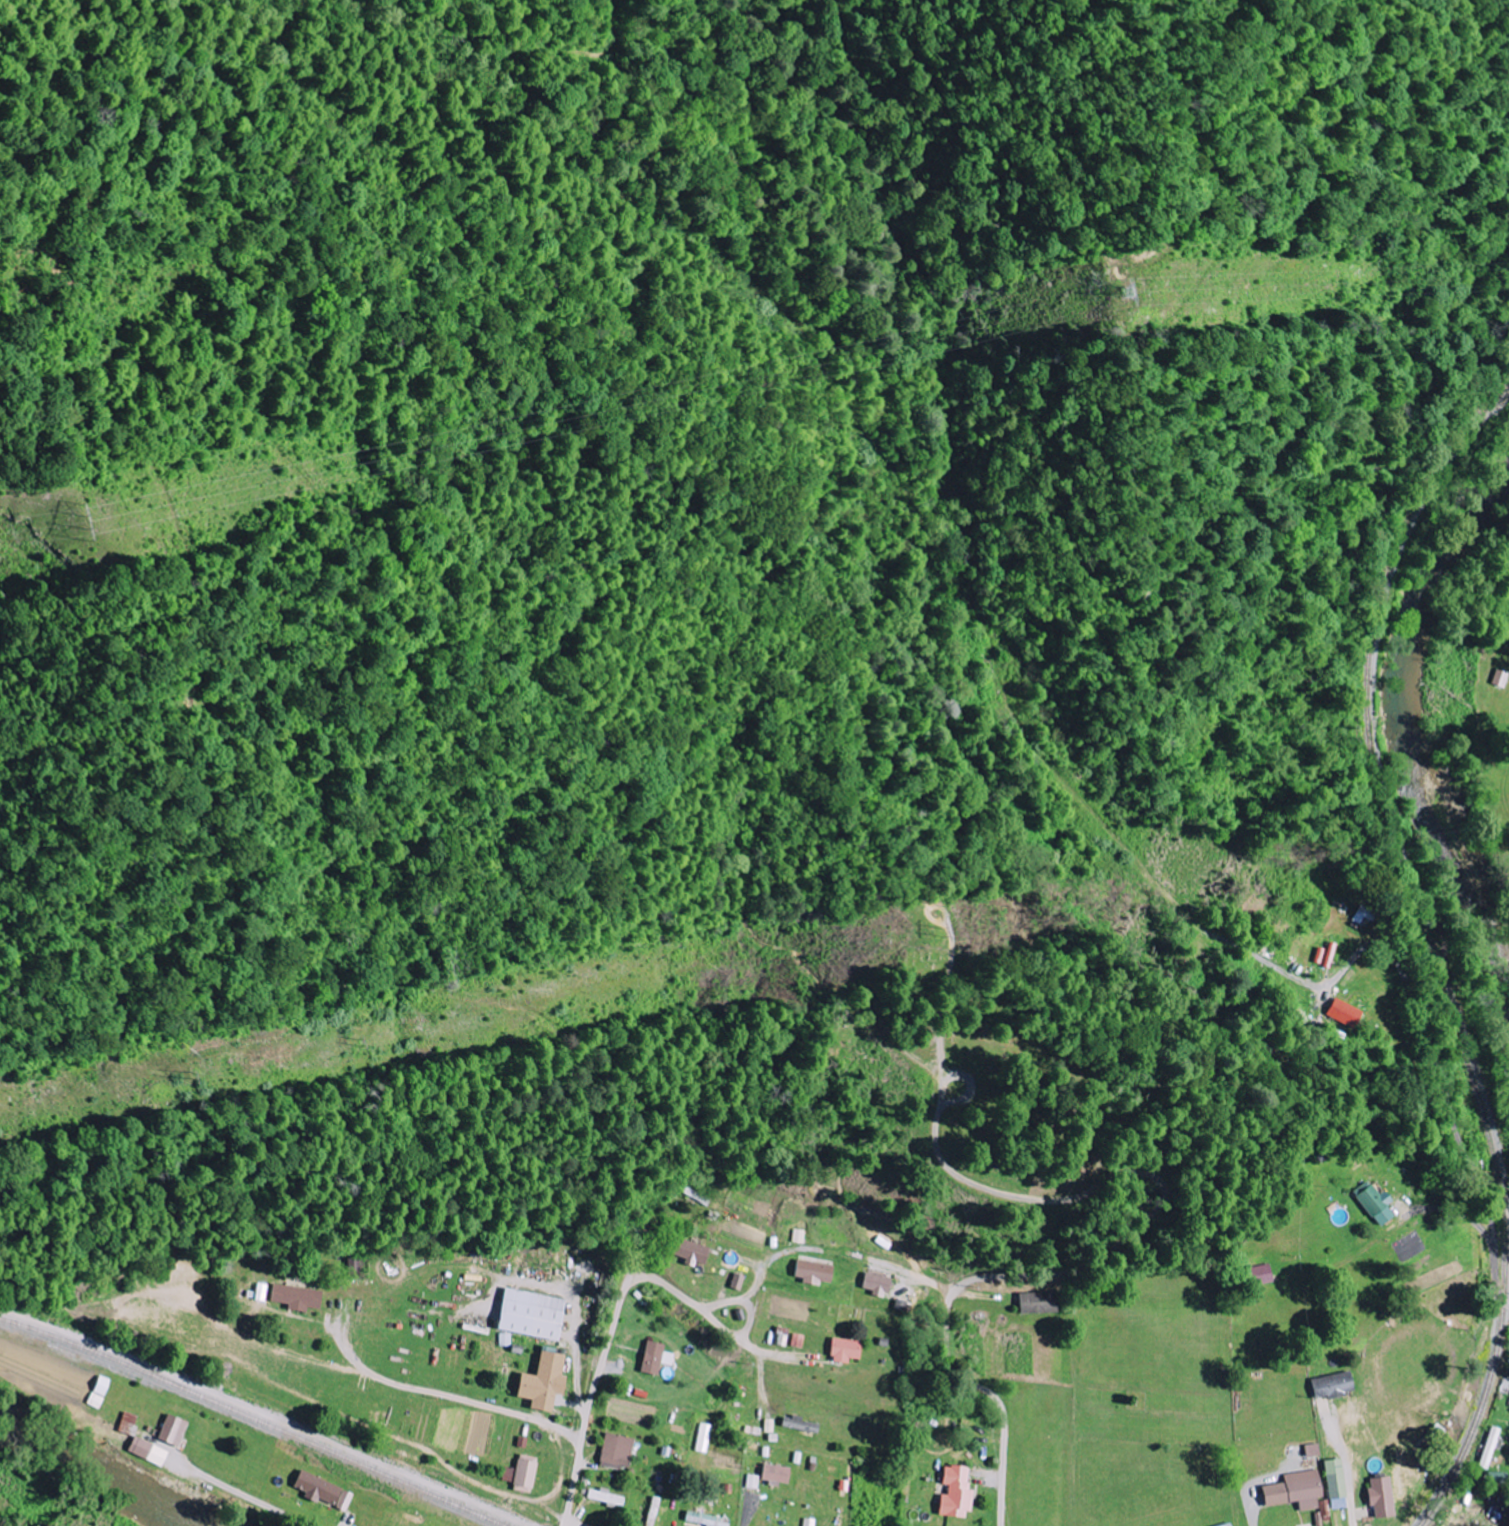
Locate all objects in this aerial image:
building: (1499, 677)
river: (1408, 741)
railway: (1436, 943)
road: (1351, 963)
building: (1339, 1012)
park: (963, 1081)
road: (960, 1096)
road: (1453, 1129)
building: (1371, 1204)
building: (800, 1236)
building: (690, 1251)
road: (1105, 1256)
building: (357, 1267)
building: (813, 1272)
building: (1259, 1274)
road: (1494, 1276)
building: (737, 1281)
building: (877, 1283)
building: (261, 1294)
building: (295, 1296)
building: (1037, 1303)
building: (528, 1316)
road: (729, 1333)
building: (797, 1340)
building: (842, 1350)
building: (654, 1358)
road: (602, 1364)
building: (541, 1382)
building: (1330, 1385)
railway: (257, 1415)
building: (126, 1423)
building: (170, 1430)
building: (703, 1438)
building: (1487, 1447)
building: (615, 1451)
river: (99, 1468)
building: (520, 1473)
building: (774, 1473)
building: (752, 1481)
building: (1333, 1484)
road: (1364, 1487)
building: (320, 1490)
building: (1293, 1490)
building: (954, 1492)
road: (251, 1495)
building: (1378, 1497)
road: (1352, 1502)
building: (704, 1519)
road: (572, 1522)
building: (808, 1522)

